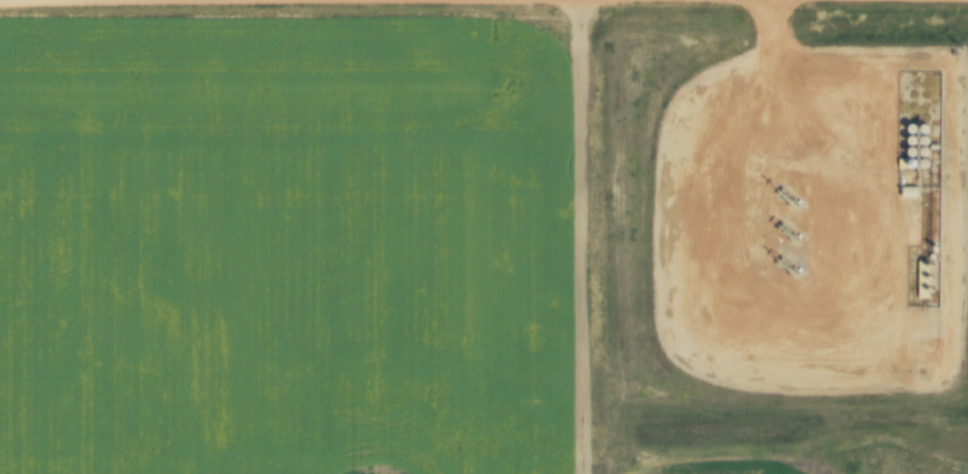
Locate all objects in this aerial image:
road: (582, 236)

